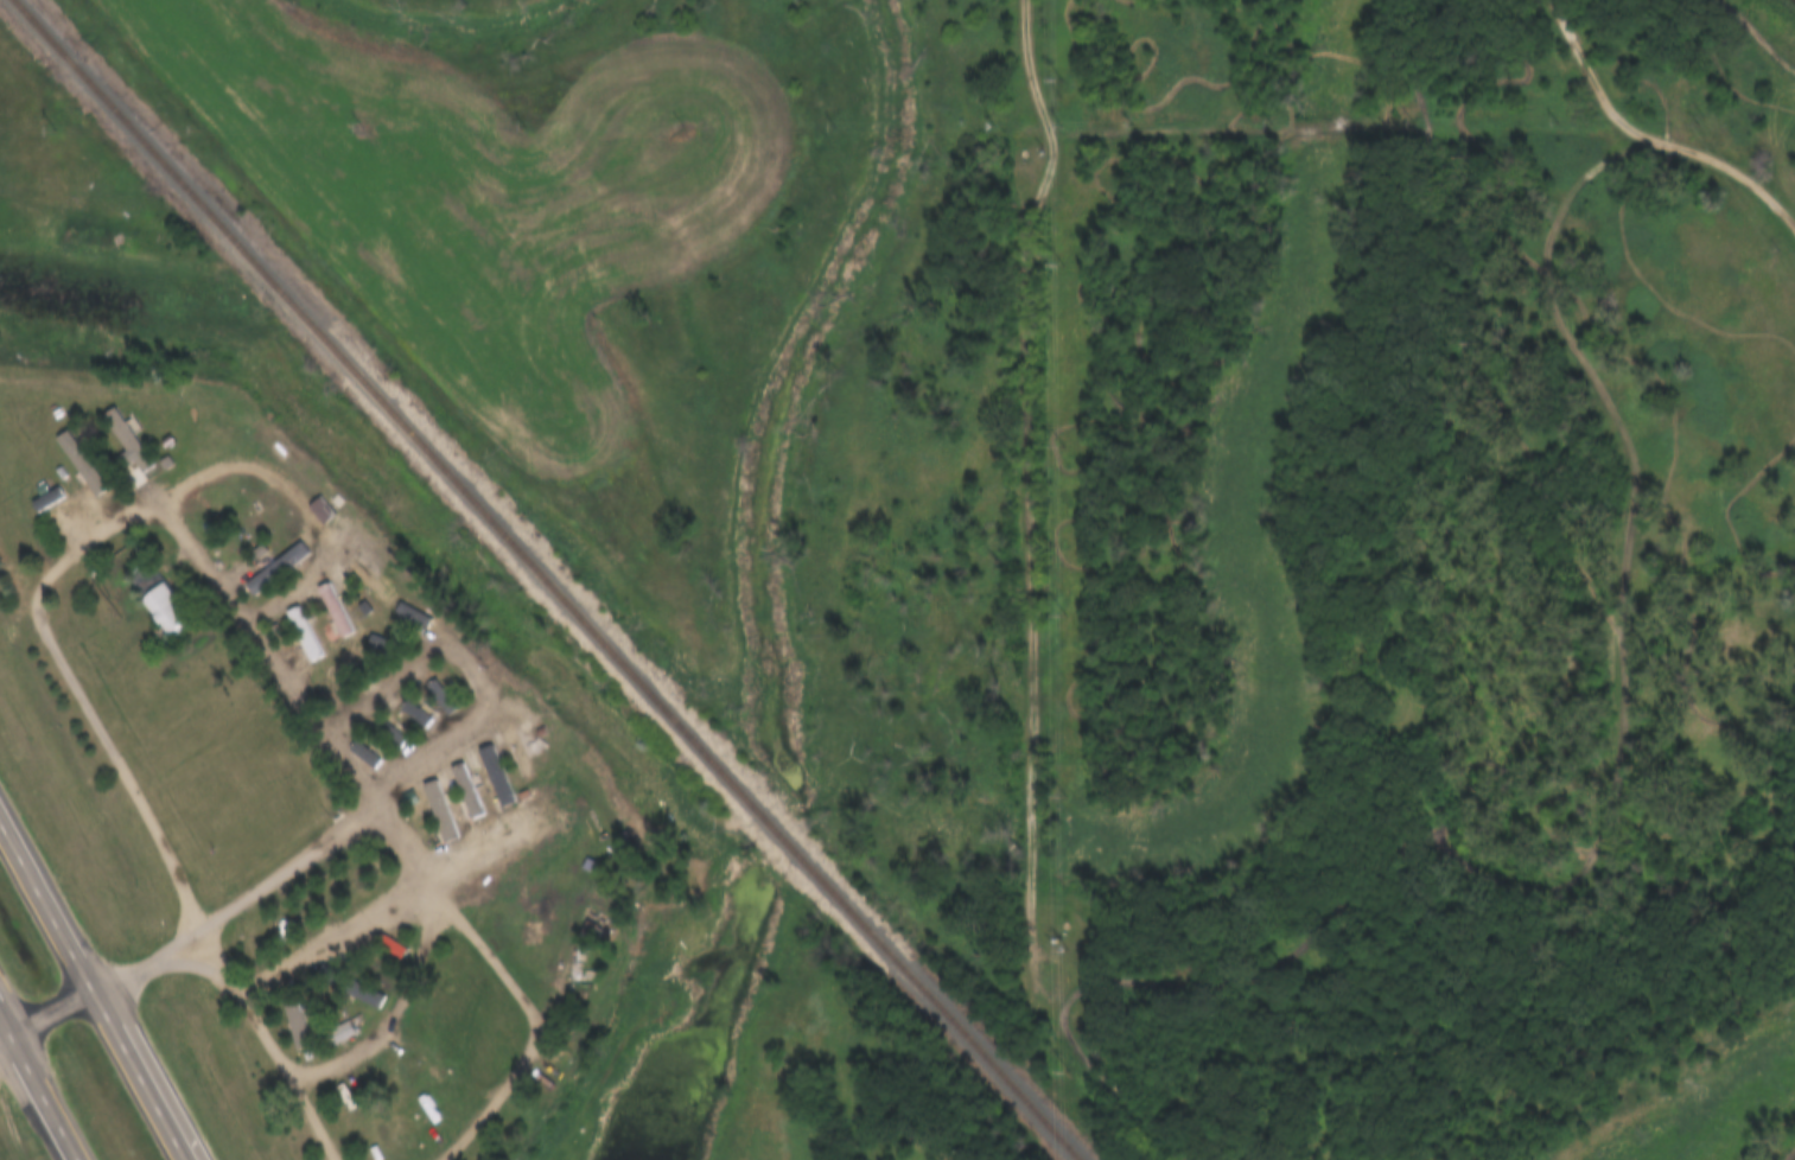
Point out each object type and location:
road: (1745, 46)
road: (1585, 55)
road: (1713, 69)
road: (1438, 123)
road: (1642, 209)
road: (1618, 368)
building: (145, 448)
road: (1027, 483)
road: (1625, 486)
road: (1048, 491)
road: (1466, 492)
road: (164, 504)
road: (1788, 540)
park: (1386, 572)
railway: (546, 580)
building: (160, 599)
road: (1418, 617)
road: (441, 688)
road: (1459, 872)
road: (265, 886)
road: (1409, 955)
road: (180, 968)
road: (95, 982)
road: (1651, 1024)
road: (1464, 1033)
road: (5, 1034)
building: (339, 1034)
road: (1199, 1057)
road: (330, 1066)
road: (1097, 1075)
road: (39, 1085)
road: (1774, 1140)

